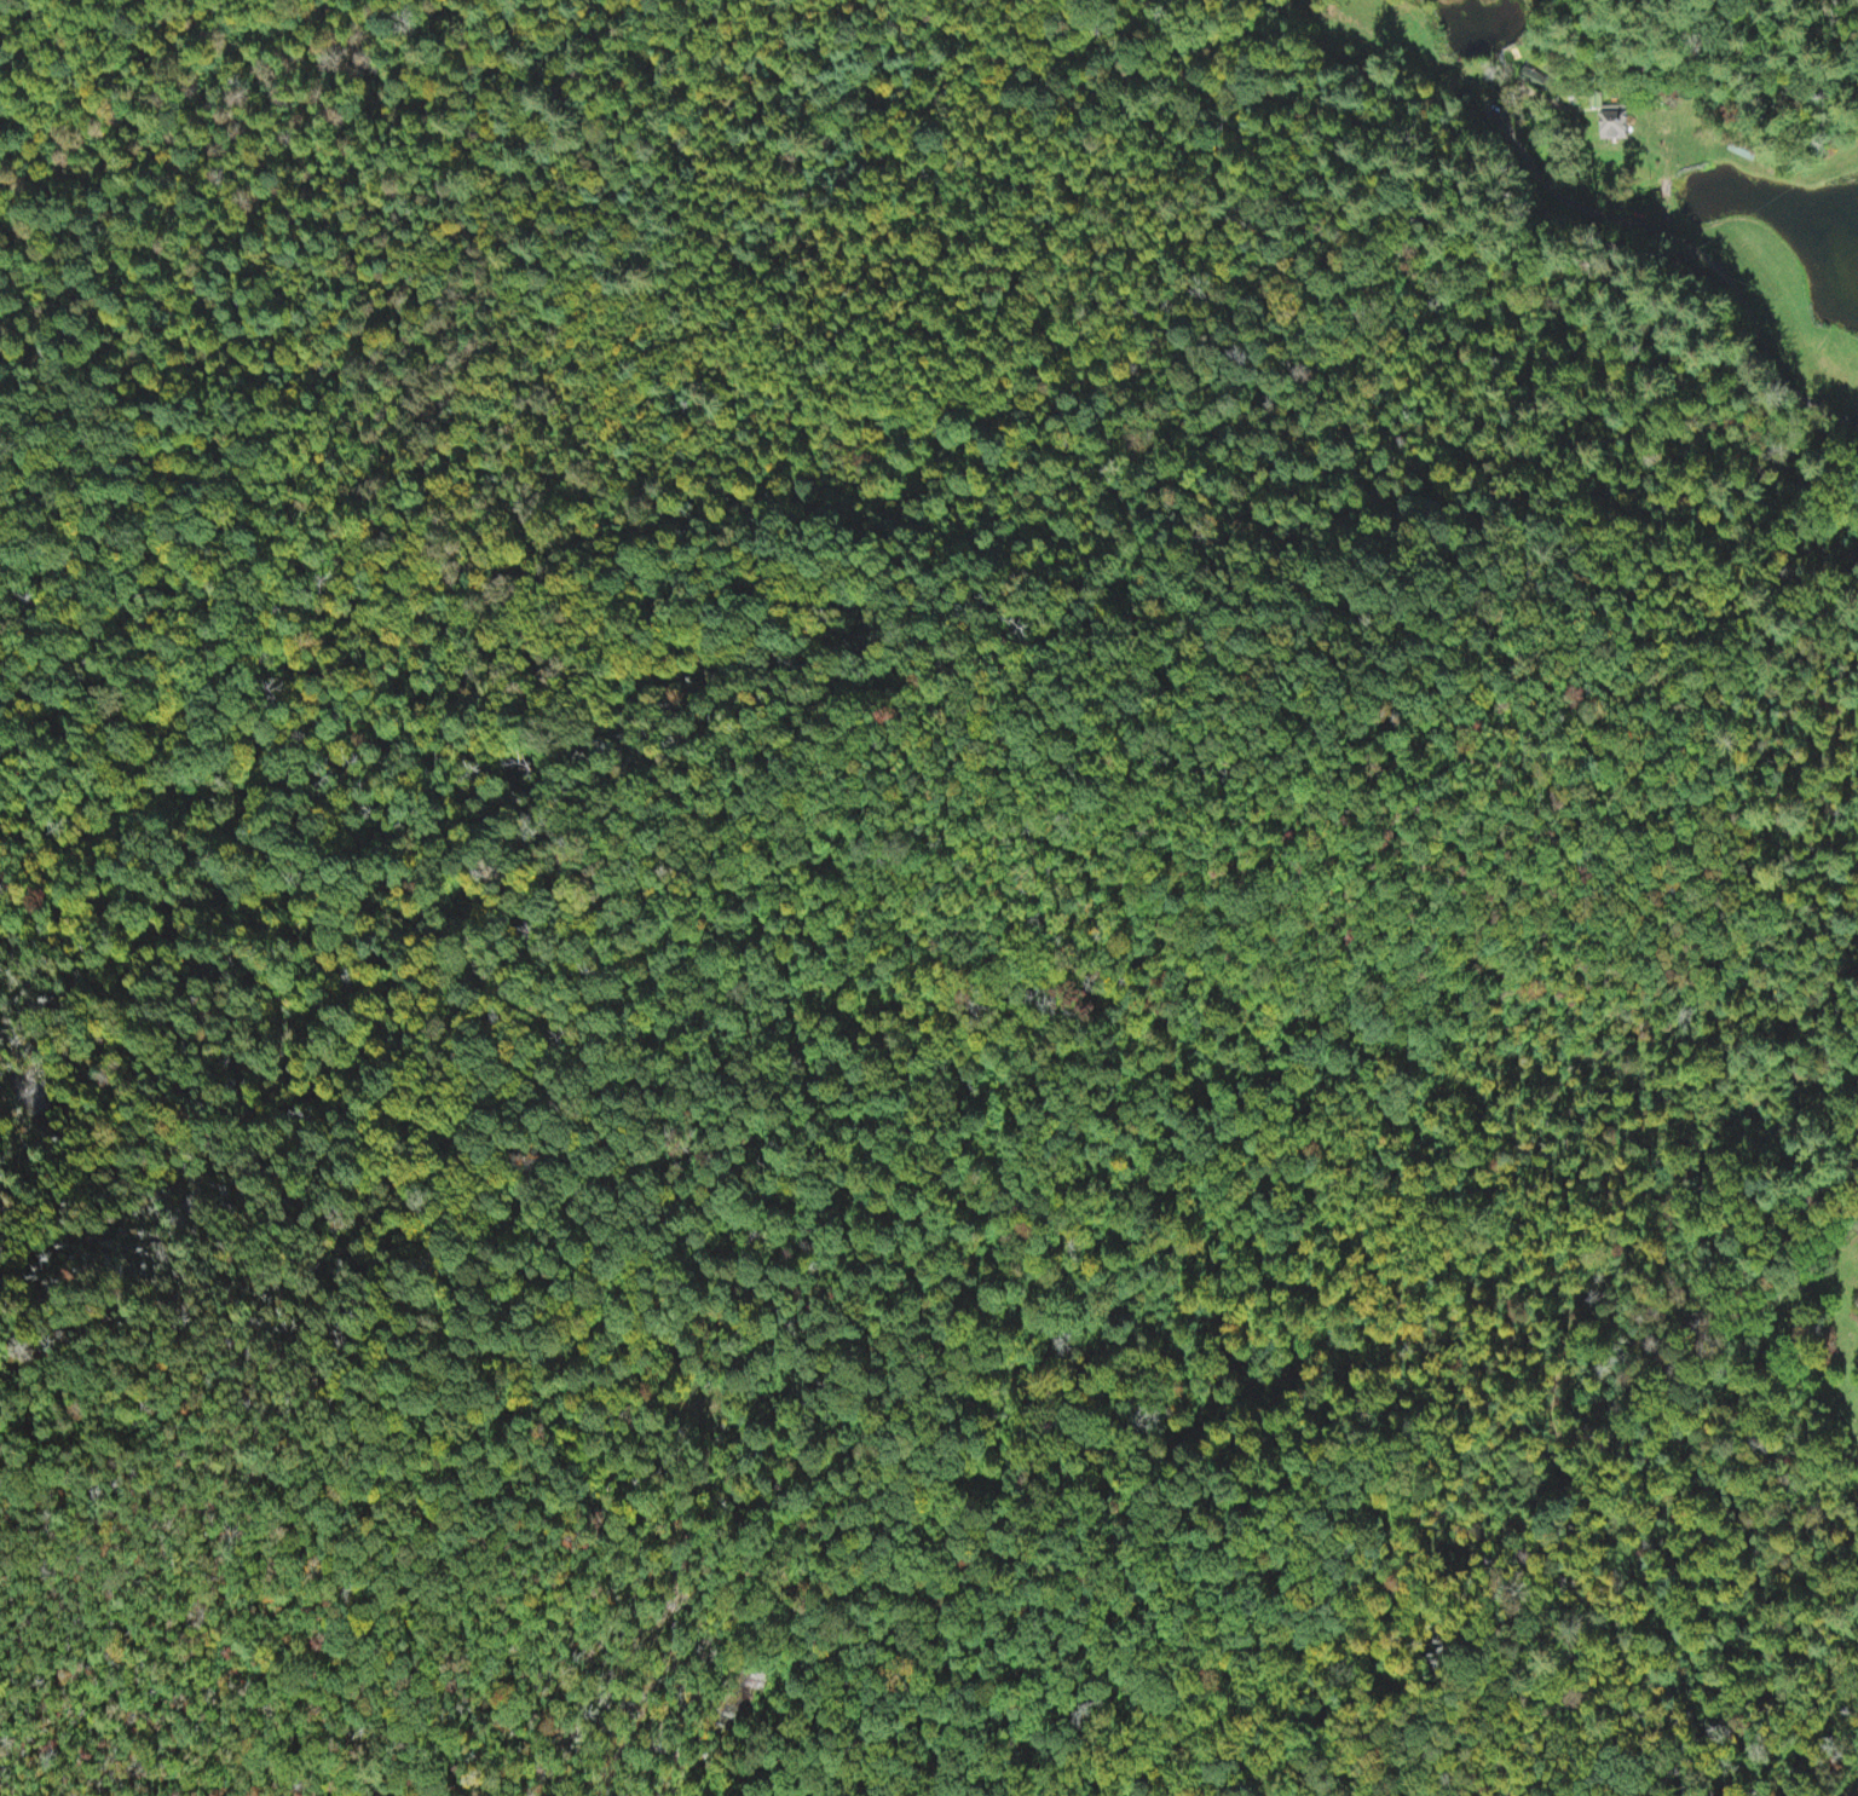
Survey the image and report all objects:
dam: (1458, 63)
building: (1615, 126)
road: (168, 1534)

